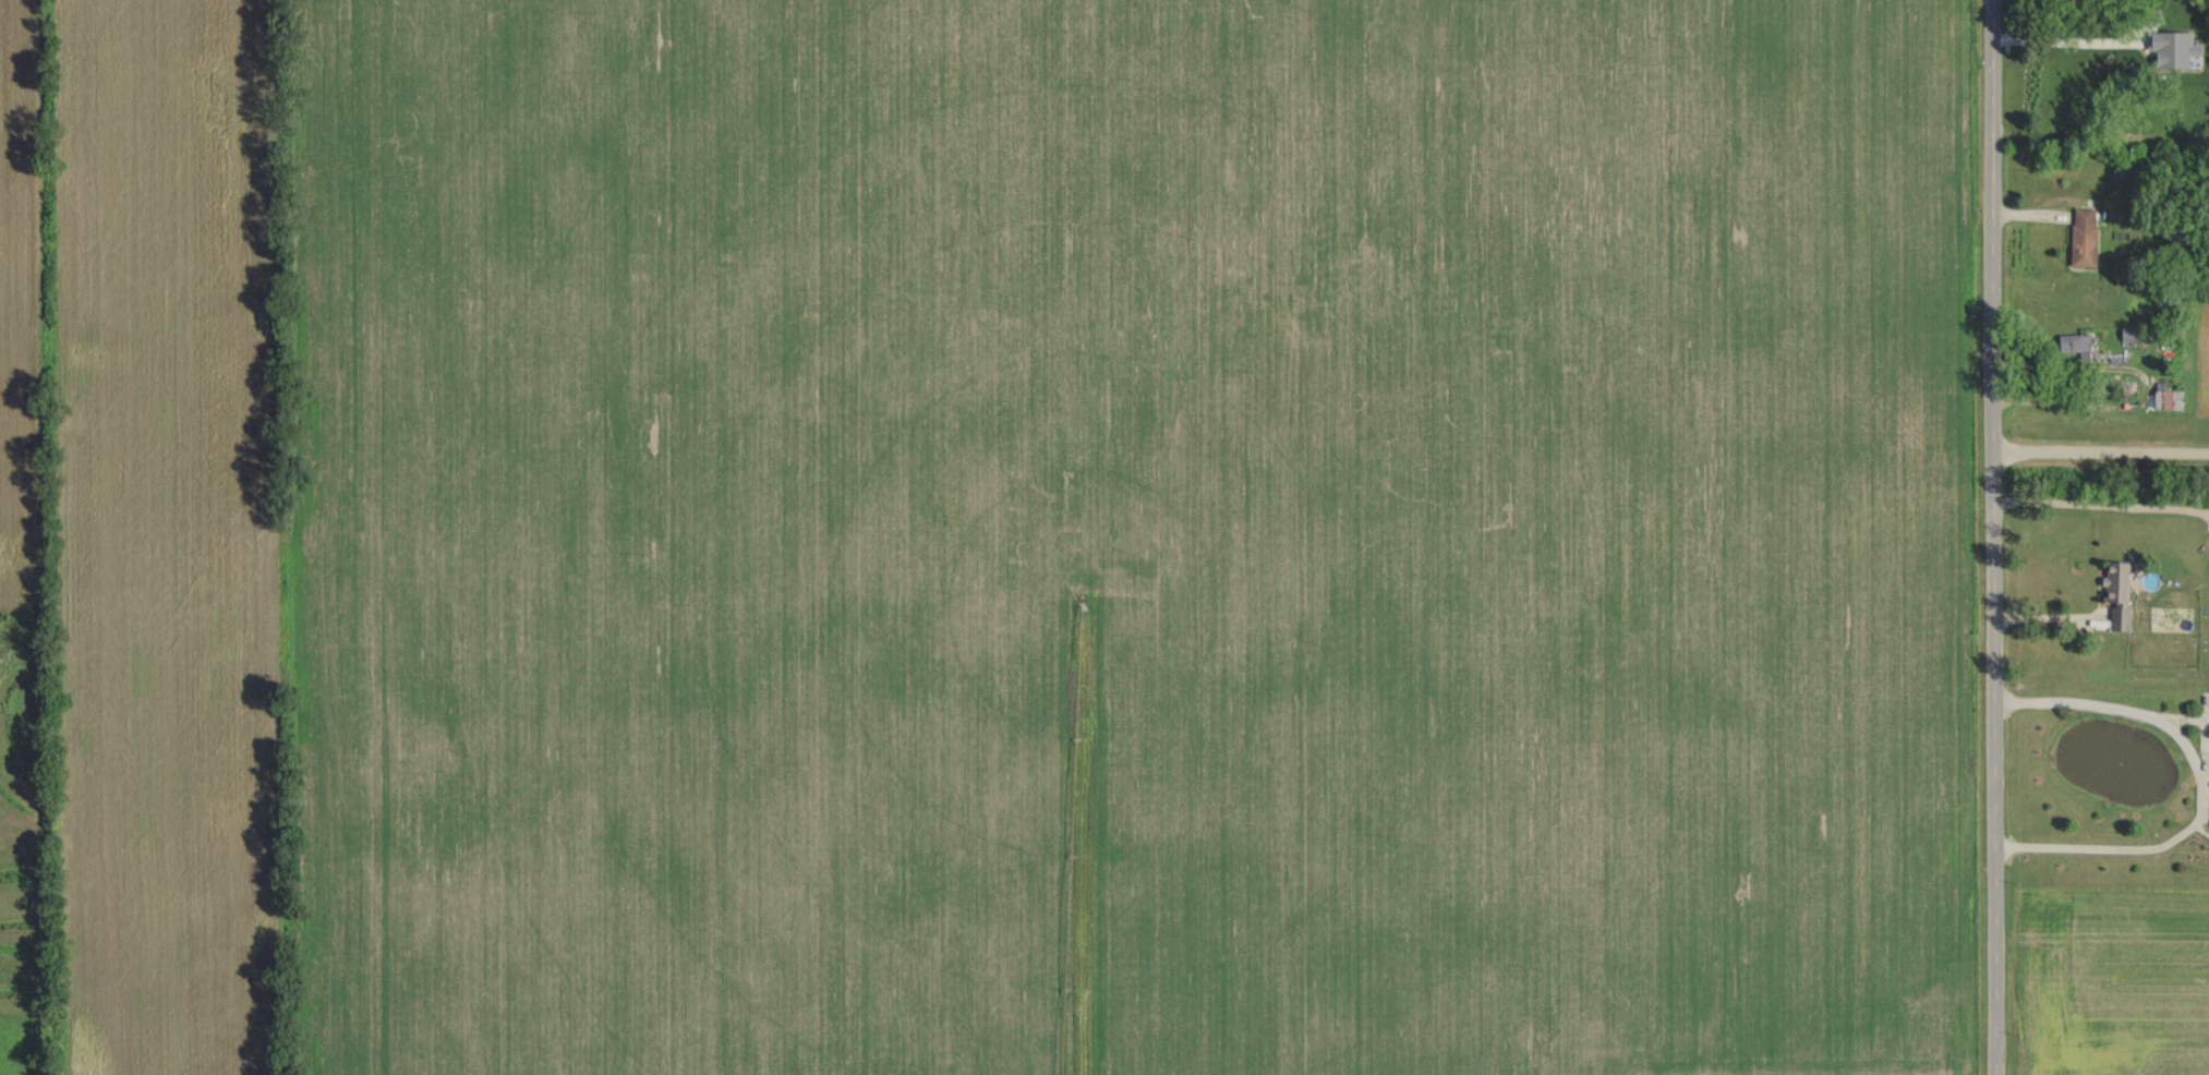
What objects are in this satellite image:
road: (2068, 37)
building: (2171, 111)
building: (2086, 237)
building: (2178, 241)
building: (2076, 343)
building: (2169, 396)
road: (2102, 451)
road: (1995, 537)
building: (2121, 593)
road: (2052, 619)
road: (2202, 783)

